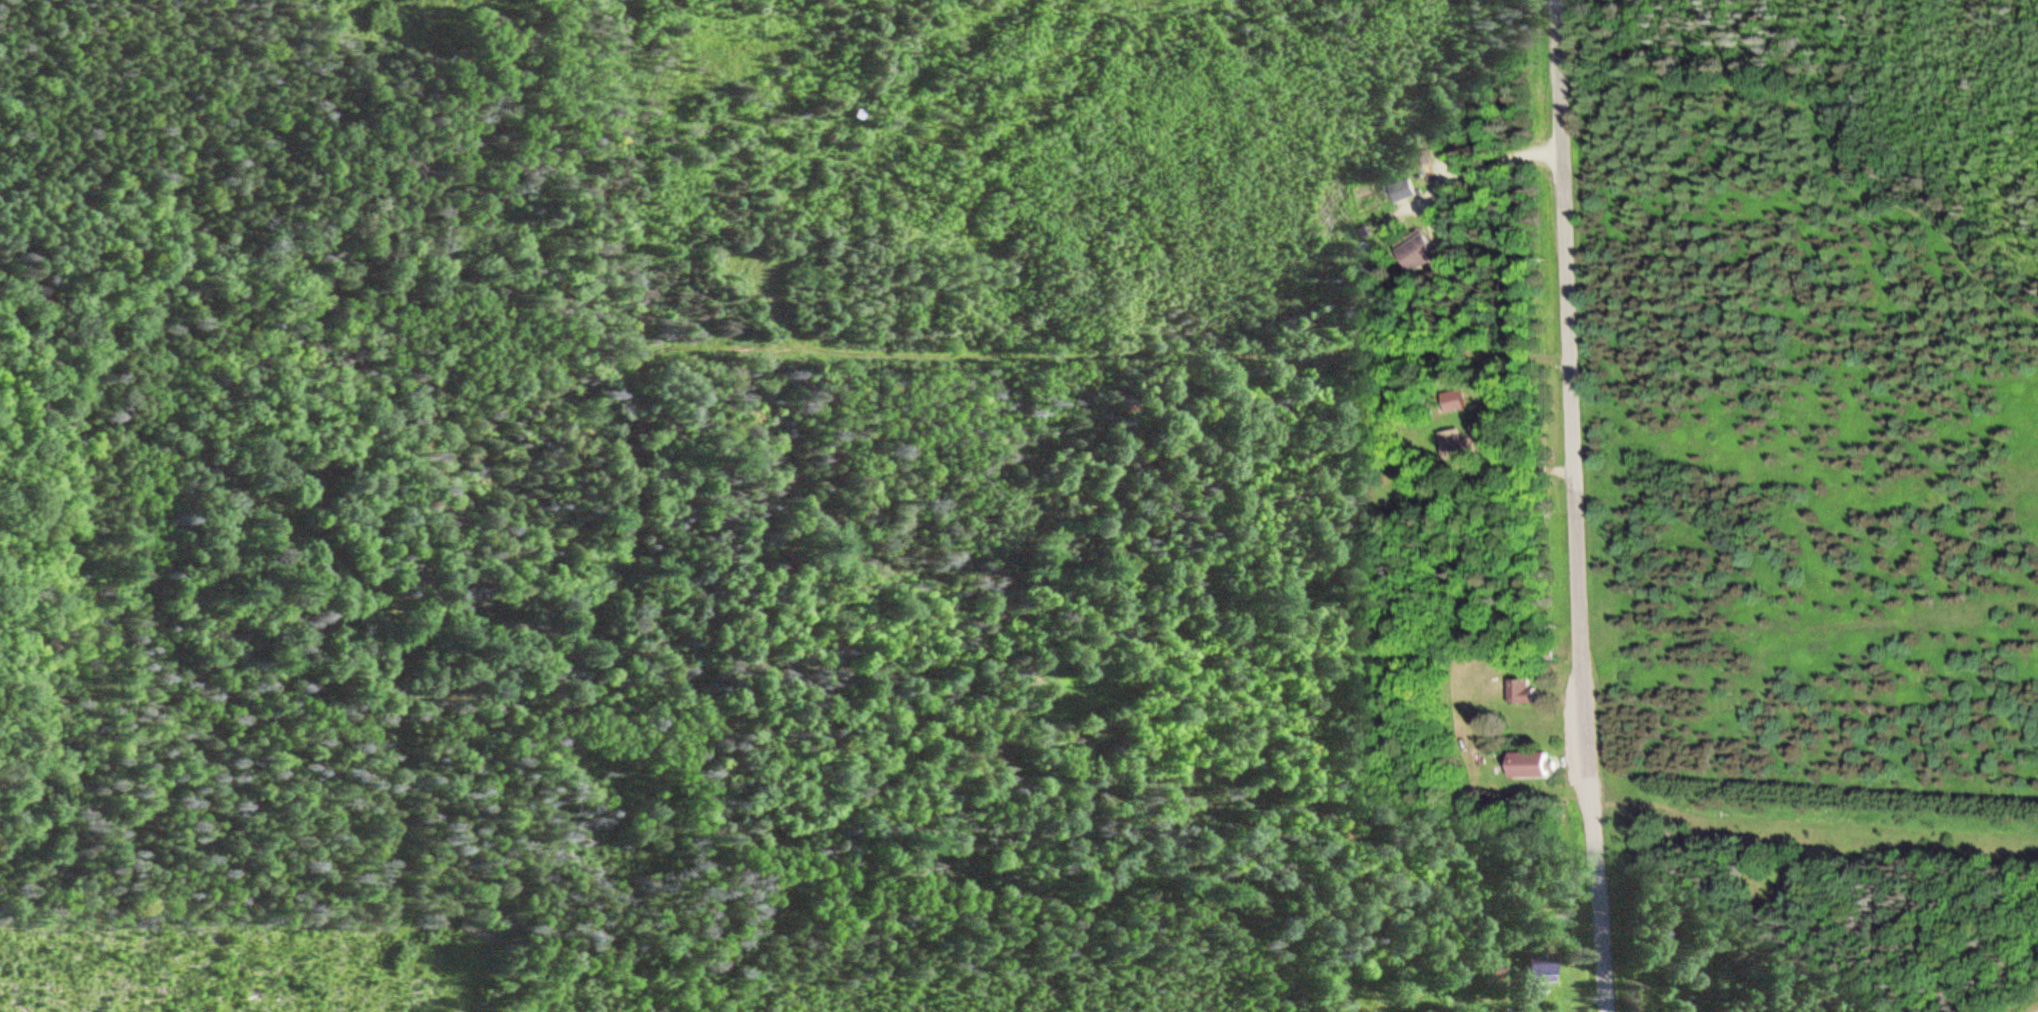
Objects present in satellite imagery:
road: (1486, 164)
building: (1400, 191)
building: (1416, 254)
building: (1453, 401)
building: (1457, 445)
road: (1537, 470)
road: (1574, 506)
building: (1520, 692)
building: (1526, 766)

